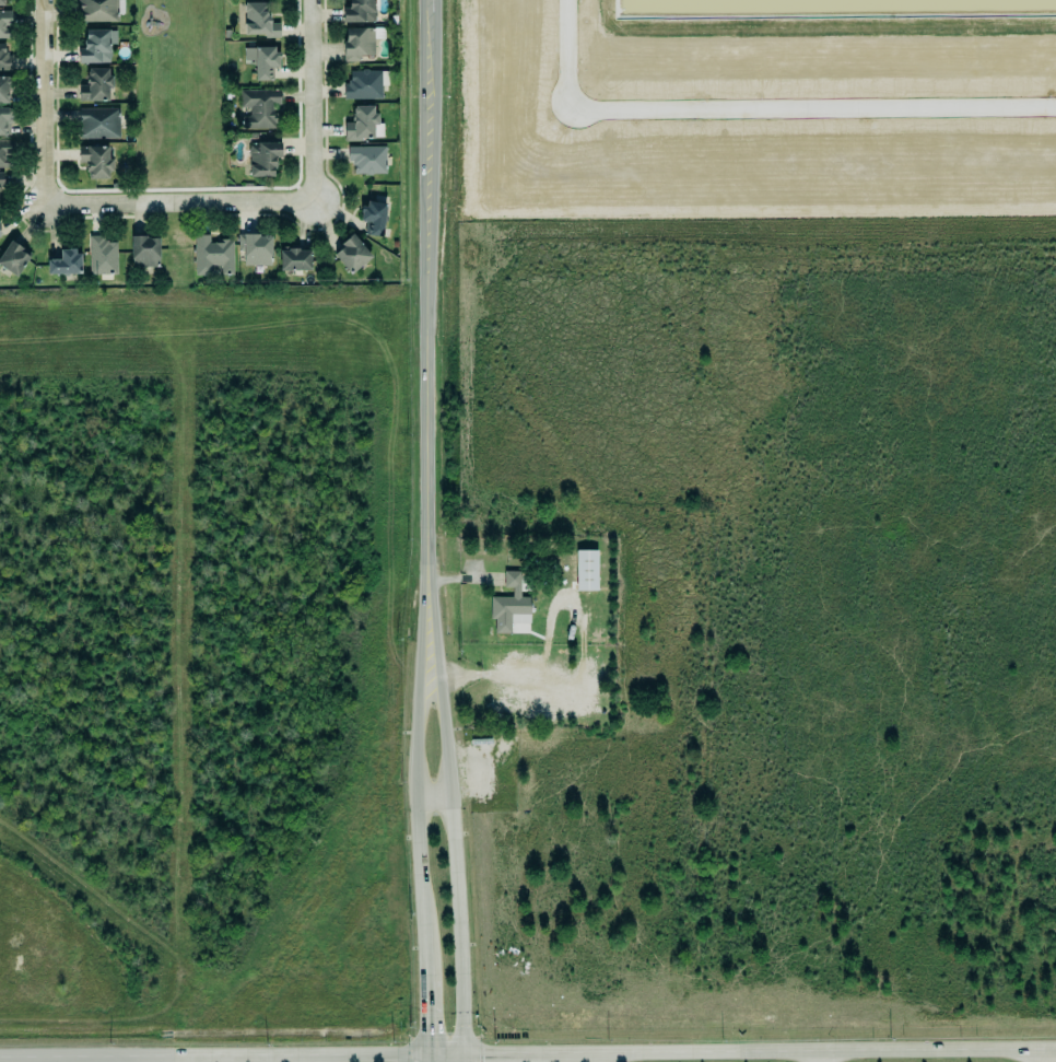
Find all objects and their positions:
building: (0, 2)
building: (97, 10)
building: (357, 10)
building: (259, 21)
building: (5, 24)
building: (359, 40)
building: (95, 45)
building: (4, 57)
building: (263, 61)
building: (363, 83)
building: (95, 85)
building: (3, 90)
road: (44, 101)
road: (313, 101)
road: (759, 104)
building: (259, 108)
building: (4, 121)
building: (96, 121)
building: (361, 124)
building: (5, 154)
building: (263, 159)
building: (367, 159)
building: (96, 161)
building: (0, 178)
road: (179, 201)
building: (371, 217)
building: (255, 249)
building: (144, 252)
building: (350, 254)
building: (99, 255)
building: (213, 256)
building: (12, 257)
building: (292, 259)
building: (66, 264)
road: (426, 337)
building: (586, 570)
building: (509, 605)
road: (541, 674)
road: (434, 797)
road: (418, 827)
road: (455, 862)
road: (424, 1018)
road: (1048, 1047)
road: (801, 1051)
road: (444, 1054)
traffic signals: (462, 1054)
road: (512, 1054)
road: (1041, 1054)
road: (197, 1055)
road: (337, 1055)
traffic signals: (425, 1055)
road: (73, 1057)
road: (0, 1058)
road: (462, 1058)
road: (145, 1059)
road: (425, 1059)

